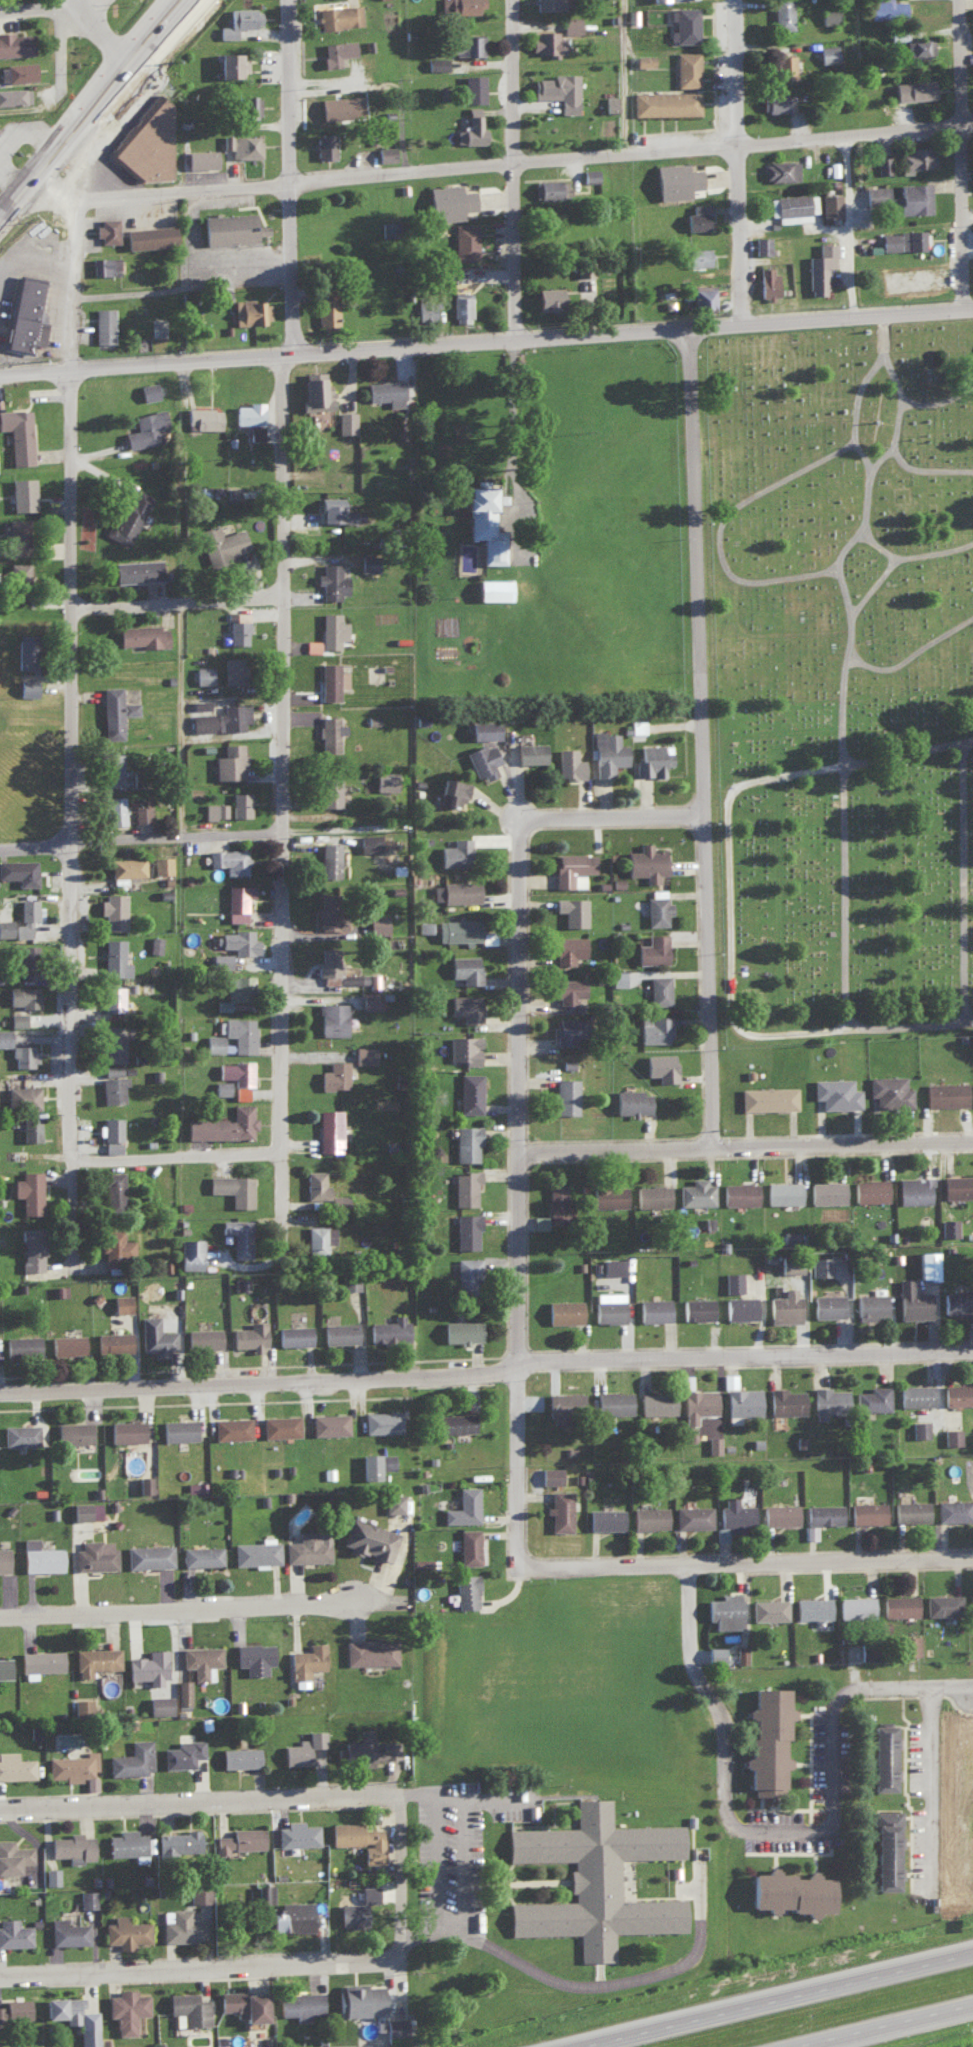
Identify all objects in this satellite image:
road: (62, 4)
building: (546, 4)
building: (460, 6)
building: (885, 7)
road: (31, 9)
road: (88, 9)
building: (828, 12)
building: (782, 14)
building: (339, 15)
building: (237, 18)
building: (684, 24)
road: (155, 29)
road: (96, 33)
building: (897, 34)
building: (555, 37)
building: (15, 43)
building: (466, 45)
building: (918, 46)
road: (68, 52)
building: (827, 52)
building: (331, 55)
building: (643, 59)
building: (435, 63)
building: (784, 65)
building: (235, 67)
building: (686, 68)
building: (19, 70)
road: (621, 74)
building: (466, 86)
building: (913, 89)
building: (559, 92)
building: (14, 95)
building: (609, 102)
building: (665, 102)
building: (773, 102)
building: (247, 104)
building: (338, 106)
road: (37, 114)
road: (81, 118)
building: (467, 130)
building: (147, 141)
building: (336, 146)
building: (249, 150)
building: (385, 152)
road: (958, 156)
building: (200, 158)
building: (902, 158)
road: (497, 159)
road: (735, 161)
road: (511, 169)
building: (779, 170)
building: (589, 174)
building: (679, 178)
building: (549, 187)
road: (16, 195)
building: (901, 197)
building: (446, 201)
building: (794, 203)
building: (830, 204)
building: (697, 215)
road: (965, 216)
road: (750, 223)
building: (229, 225)
building: (387, 227)
building: (972, 227)
building: (106, 229)
road: (858, 230)
road: (840, 232)
building: (147, 234)
building: (464, 241)
building: (904, 241)
building: (761, 244)
building: (697, 256)
building: (104, 265)
building: (819, 267)
building: (583, 270)
building: (767, 282)
road: (185, 289)
building: (702, 295)
building: (548, 297)
building: (461, 306)
building: (324, 307)
building: (425, 309)
building: (249, 312)
building: (24, 314)
building: (103, 324)
road: (486, 341)
road: (903, 384)
building: (381, 387)
building: (148, 390)
building: (315, 392)
road: (943, 410)
building: (204, 417)
building: (250, 417)
building: (346, 421)
building: (145, 428)
building: (17, 434)
road: (892, 462)
road: (912, 465)
building: (209, 490)
building: (22, 493)
building: (340, 510)
building: (129, 515)
building: (483, 523)
road: (733, 529)
building: (16, 535)
building: (220, 542)
road: (938, 557)
building: (368, 562)
building: (136, 570)
building: (19, 571)
road: (706, 575)
road: (897, 576)
building: (331, 580)
building: (494, 589)
road: (177, 604)
road: (282, 618)
building: (238, 628)
building: (331, 630)
building: (139, 634)
building: (312, 645)
building: (23, 651)
road: (859, 662)
road: (918, 664)
building: (231, 669)
building: (202, 674)
building: (331, 680)
building: (26, 686)
park: (848, 686)
building: (199, 704)
building: (129, 708)
building: (111, 711)
building: (221, 718)
road: (179, 720)
building: (638, 725)
building: (482, 728)
building: (329, 732)
road: (69, 737)
building: (530, 751)
building: (607, 751)
building: (482, 759)
building: (652, 759)
building: (229, 760)
building: (568, 762)
building: (110, 763)
building: (381, 780)
building: (329, 789)
building: (452, 790)
building: (240, 803)
building: (112, 808)
building: (214, 809)
building: (141, 812)
road: (174, 836)
road: (34, 844)
building: (455, 852)
building: (333, 854)
building: (228, 858)
building: (646, 860)
building: (161, 863)
building: (126, 865)
building: (575, 866)
building: (19, 870)
building: (458, 890)
building: (237, 900)
building: (656, 908)
building: (114, 909)
building: (572, 909)
road: (740, 909)
building: (332, 911)
building: (25, 915)
building: (375, 923)
building: (6, 927)
building: (458, 930)
building: (237, 940)
building: (155, 943)
building: (651, 946)
building: (569, 948)
building: (117, 955)
building: (223, 959)
building: (331, 959)
building: (464, 968)
building: (617, 977)
road: (716, 984)
building: (565, 988)
building: (660, 988)
building: (235, 990)
building: (22, 994)
building: (369, 999)
building: (114, 1002)
building: (464, 1006)
building: (334, 1015)
building: (567, 1027)
building: (657, 1029)
building: (236, 1033)
building: (4, 1036)
building: (115, 1041)
building: (213, 1042)
building: (466, 1047)
building: (364, 1053)
building: (24, 1054)
building: (663, 1065)
building: (237, 1070)
building: (331, 1073)
building: (112, 1082)
building: (221, 1086)
building: (889, 1089)
building: (469, 1090)
building: (240, 1091)
building: (835, 1092)
building: (945, 1092)
building: (22, 1096)
building: (567, 1096)
building: (767, 1097)
building: (627, 1102)
road: (529, 1107)
building: (222, 1122)
building: (30, 1127)
building: (112, 1130)
building: (331, 1131)
building: (464, 1141)
road: (846, 1148)
road: (624, 1154)
road: (181, 1159)
building: (323, 1184)
building: (957, 1185)
building: (113, 1186)
building: (468, 1186)
building: (232, 1187)
building: (913, 1188)
building: (869, 1189)
building: (28, 1190)
building: (695, 1191)
building: (782, 1191)
building: (826, 1191)
building: (739, 1192)
building: (608, 1195)
building: (651, 1195)
building: (555, 1202)
building: (468, 1225)
building: (948, 1226)
building: (237, 1234)
building: (326, 1239)
building: (116, 1245)
building: (31, 1249)
building: (189, 1252)
building: (926, 1263)
building: (790, 1264)
building: (819, 1264)
building: (466, 1269)
building: (732, 1281)
building: (349, 1282)
building: (911, 1300)
building: (957, 1301)
building: (120, 1302)
building: (827, 1304)
building: (870, 1305)
building: (784, 1306)
building: (697, 1307)
building: (741, 1307)
building: (653, 1308)
building: (608, 1309)
building: (563, 1310)
building: (388, 1328)
building: (339, 1330)
building: (461, 1330)
building: (291, 1334)
building: (243, 1335)
building: (201, 1338)
building: (152, 1339)
building: (111, 1340)
building: (66, 1343)
building: (21, 1345)
road: (487, 1379)
building: (957, 1393)
building: (915, 1394)
building: (872, 1397)
building: (785, 1400)
building: (827, 1400)
building: (613, 1401)
building: (742, 1401)
building: (655, 1402)
building: (562, 1403)
building: (697, 1403)
building: (381, 1420)
building: (453, 1422)
building: (328, 1423)
building: (280, 1425)
building: (231, 1427)
building: (177, 1428)
building: (920, 1428)
building: (125, 1429)
building: (72, 1431)
building: (20, 1433)
building: (951, 1435)
building: (713, 1444)
building: (375, 1463)
building: (550, 1474)
building: (142, 1483)
building: (392, 1502)
building: (463, 1505)
building: (85, 1509)
building: (953, 1509)
building: (560, 1510)
building: (910, 1510)
building: (867, 1511)
building: (733, 1512)
building: (779, 1513)
building: (823, 1513)
building: (692, 1515)
building: (648, 1516)
building: (605, 1517)
building: (809, 1531)
building: (368, 1538)
building: (468, 1545)
building: (308, 1546)
building: (256, 1551)
building: (95, 1554)
building: (201, 1554)
building: (147, 1555)
building: (39, 1556)
building: (3, 1558)
road: (752, 1566)
building: (465, 1590)
building: (970, 1602)
building: (942, 1603)
building: (899, 1604)
building: (855, 1605)
building: (811, 1607)
building: (768, 1608)
building: (724, 1610)
road: (182, 1614)
building: (908, 1644)
building: (867, 1650)
building: (369, 1651)
building: (714, 1653)
building: (741, 1654)
building: (253, 1656)
building: (94, 1659)
building: (201, 1659)
building: (40, 1660)
building: (305, 1662)
building: (148, 1665)
building: (4, 1667)
building: (183, 1691)
building: (81, 1703)
building: (159, 1703)
building: (766, 1739)
building: (302, 1747)
building: (364, 1749)
building: (181, 1752)
building: (239, 1756)
building: (881, 1756)
building: (132, 1758)
building: (15, 1765)
building: (74, 1767)
road: (939, 1794)
road: (198, 1803)
building: (296, 1833)
building: (344, 1833)
road: (461, 1834)
building: (239, 1839)
road: (781, 1840)
building: (126, 1842)
building: (176, 1842)
building: (371, 1845)
building: (71, 1846)
building: (885, 1848)
building: (13, 1855)
road: (398, 1865)
building: (51, 1875)
building: (594, 1879)
building: (789, 1891)
building: (199, 1893)
building: (263, 1893)
building: (87, 1898)
building: (356, 1907)
building: (291, 1916)
building: (180, 1925)
building: (125, 1931)
building: (67, 1932)
building: (14, 1933)
road: (206, 1966)
road: (884, 1970)
road: (588, 1985)
building: (359, 1999)
building: (242, 2003)
building: (298, 2004)
building: (14, 2008)
building: (126, 2008)
building: (187, 2008)
building: (73, 2016)
road: (680, 2019)
road: (877, 2023)
building: (394, 2025)

